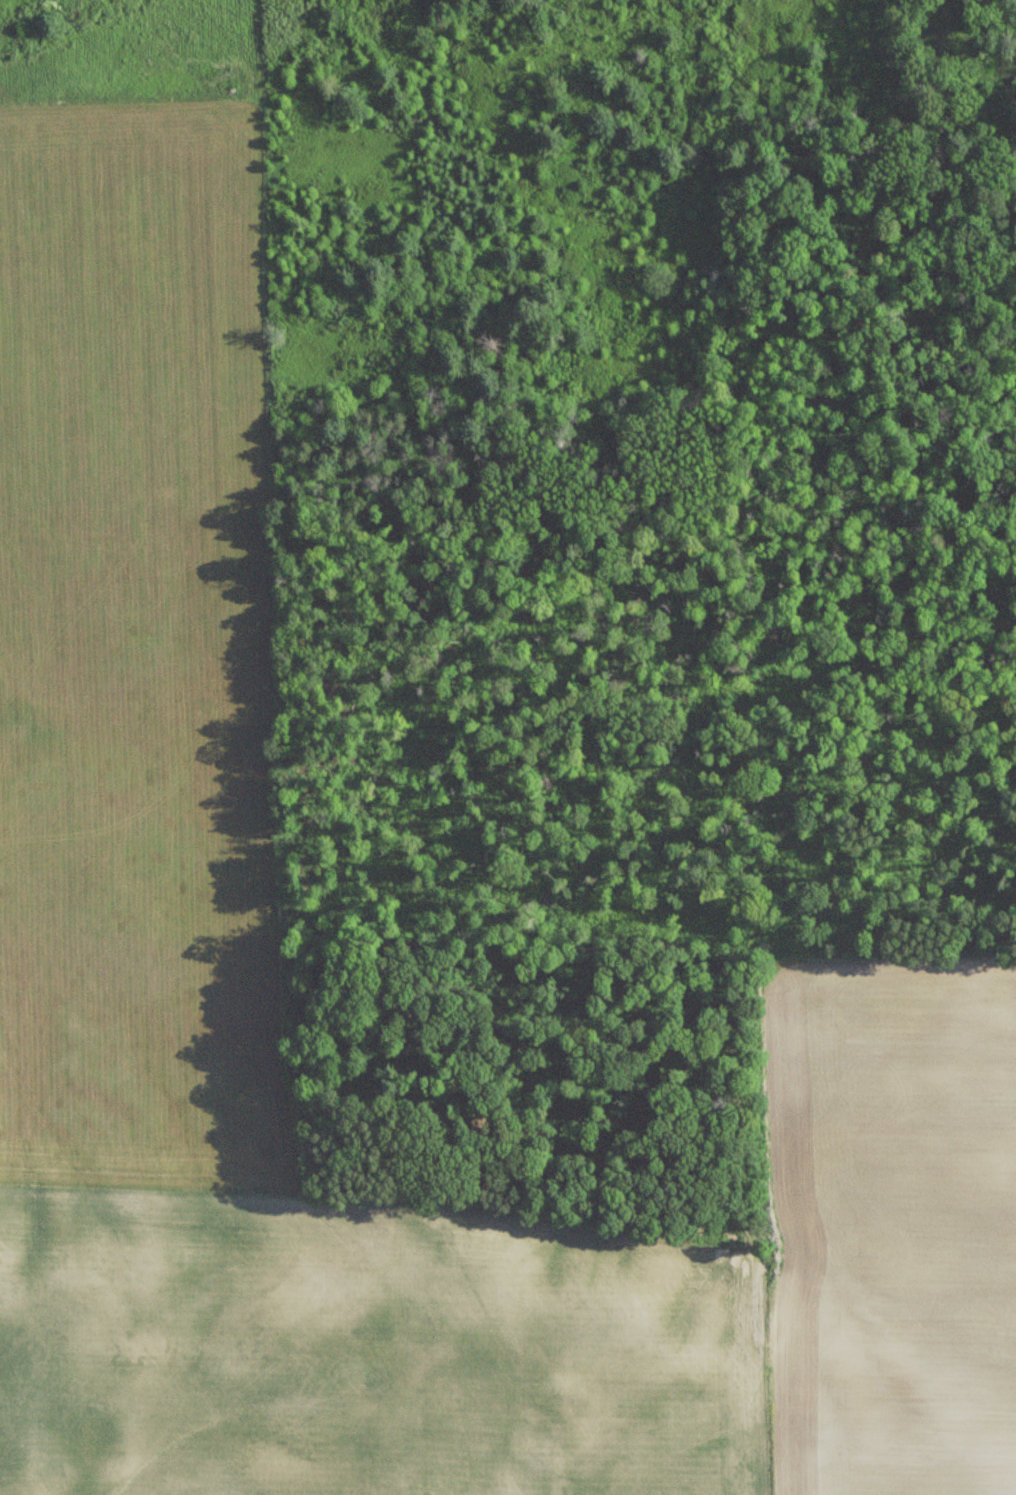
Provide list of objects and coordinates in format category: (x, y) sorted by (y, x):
crop: (370, 1352)

